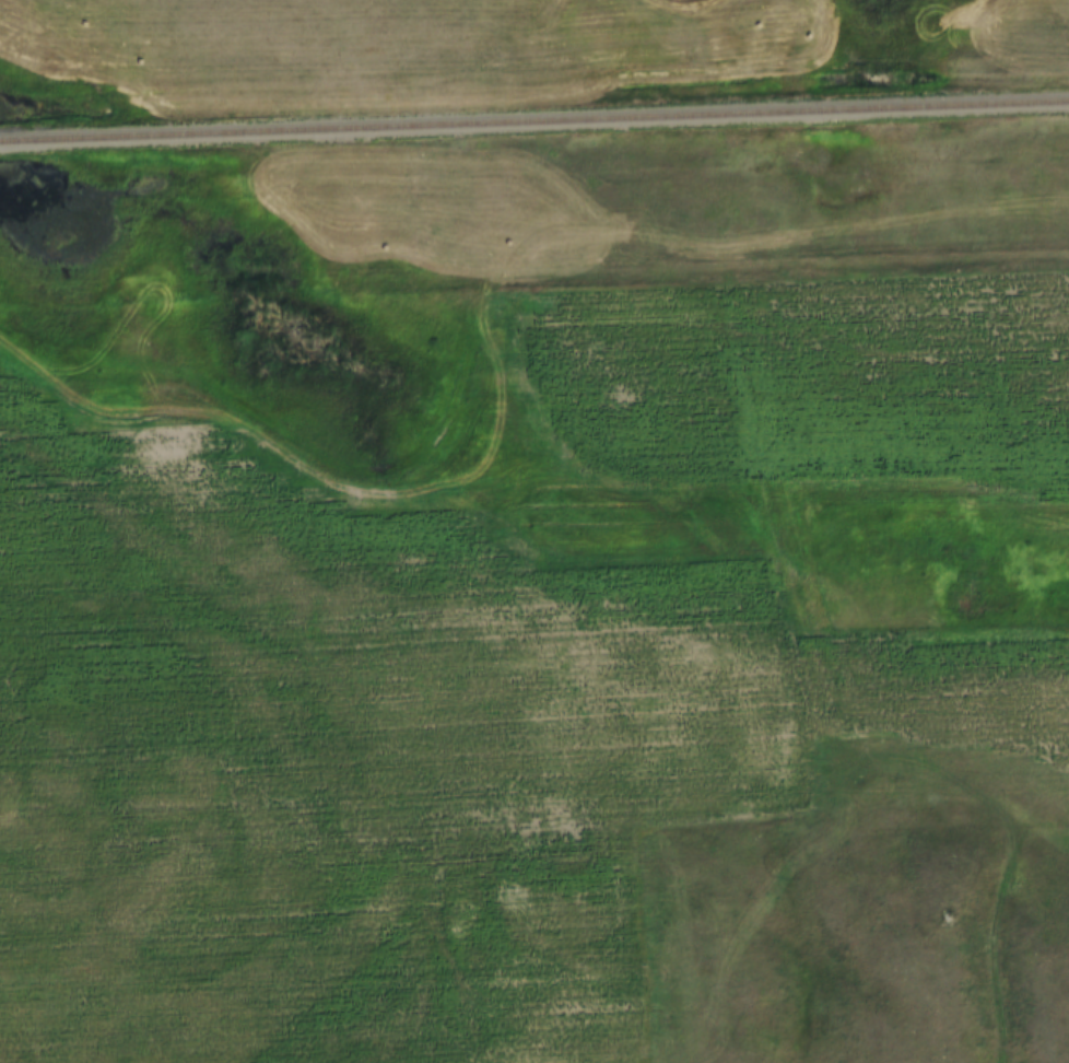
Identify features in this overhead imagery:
railway: (533, 98)

